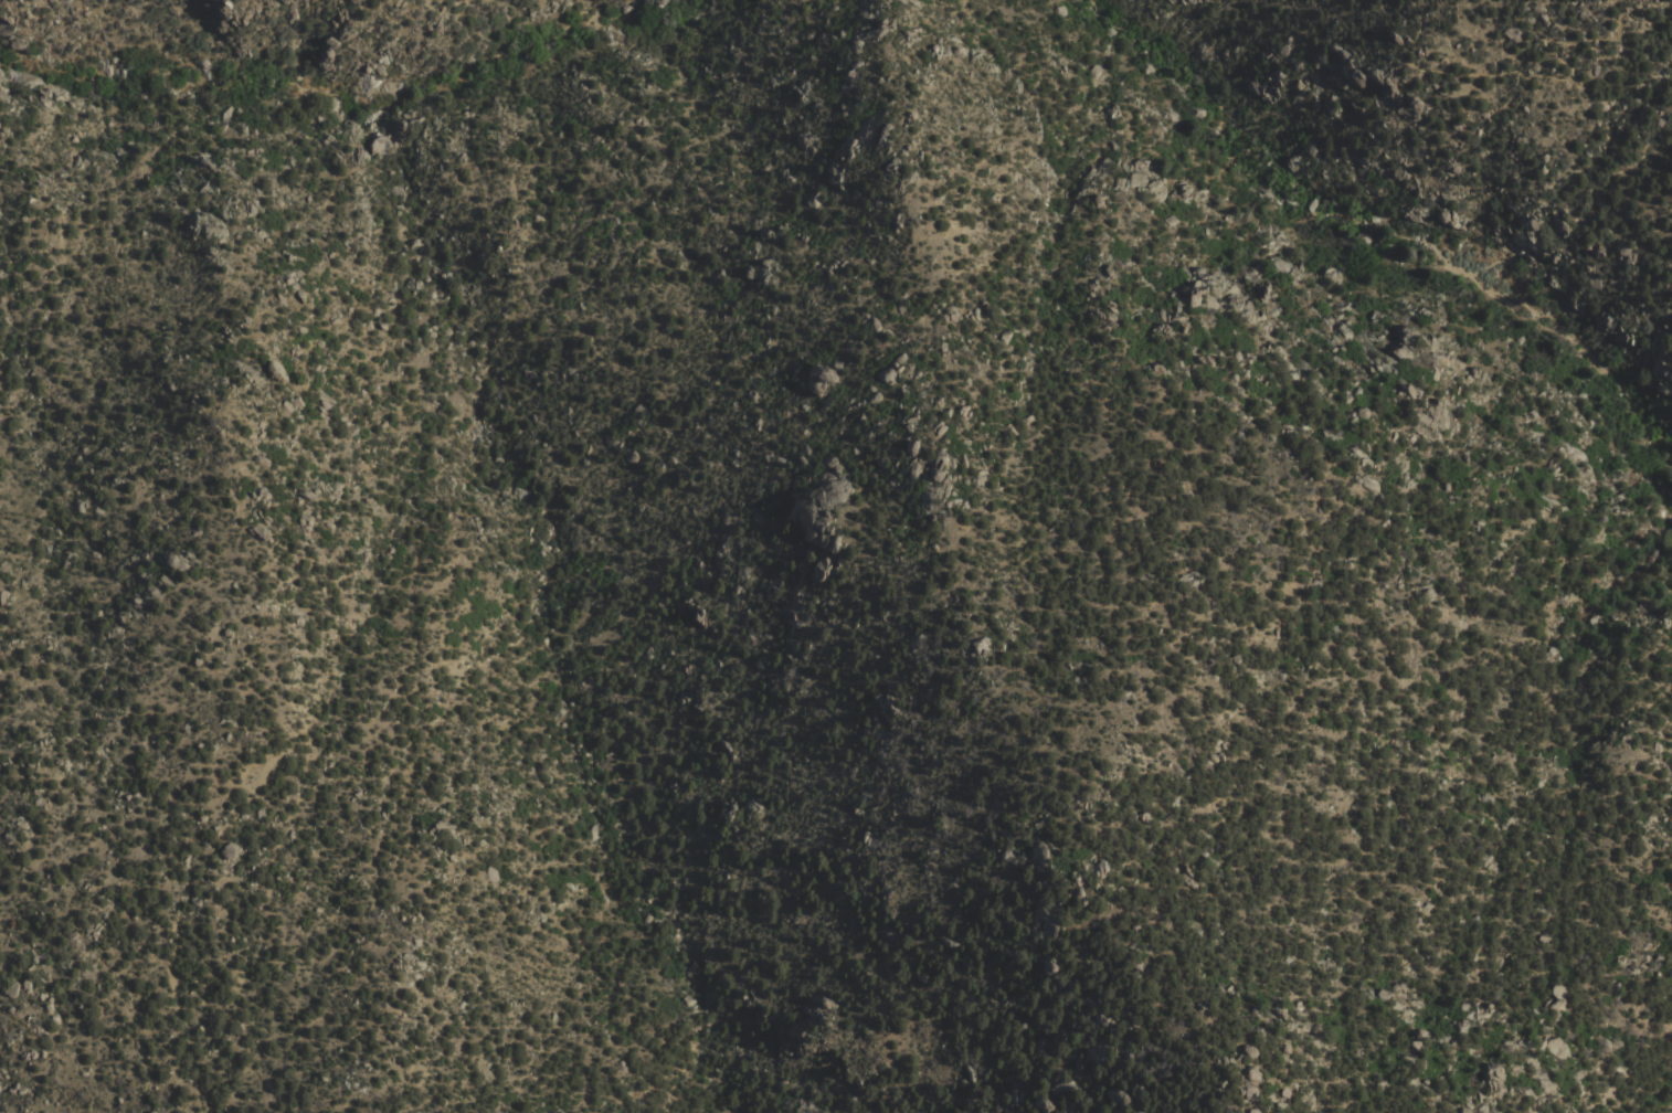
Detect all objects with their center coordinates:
road: (1385, 2)
road: (447, 4)
road: (1573, 70)
road: (290, 89)
road: (1375, 225)

